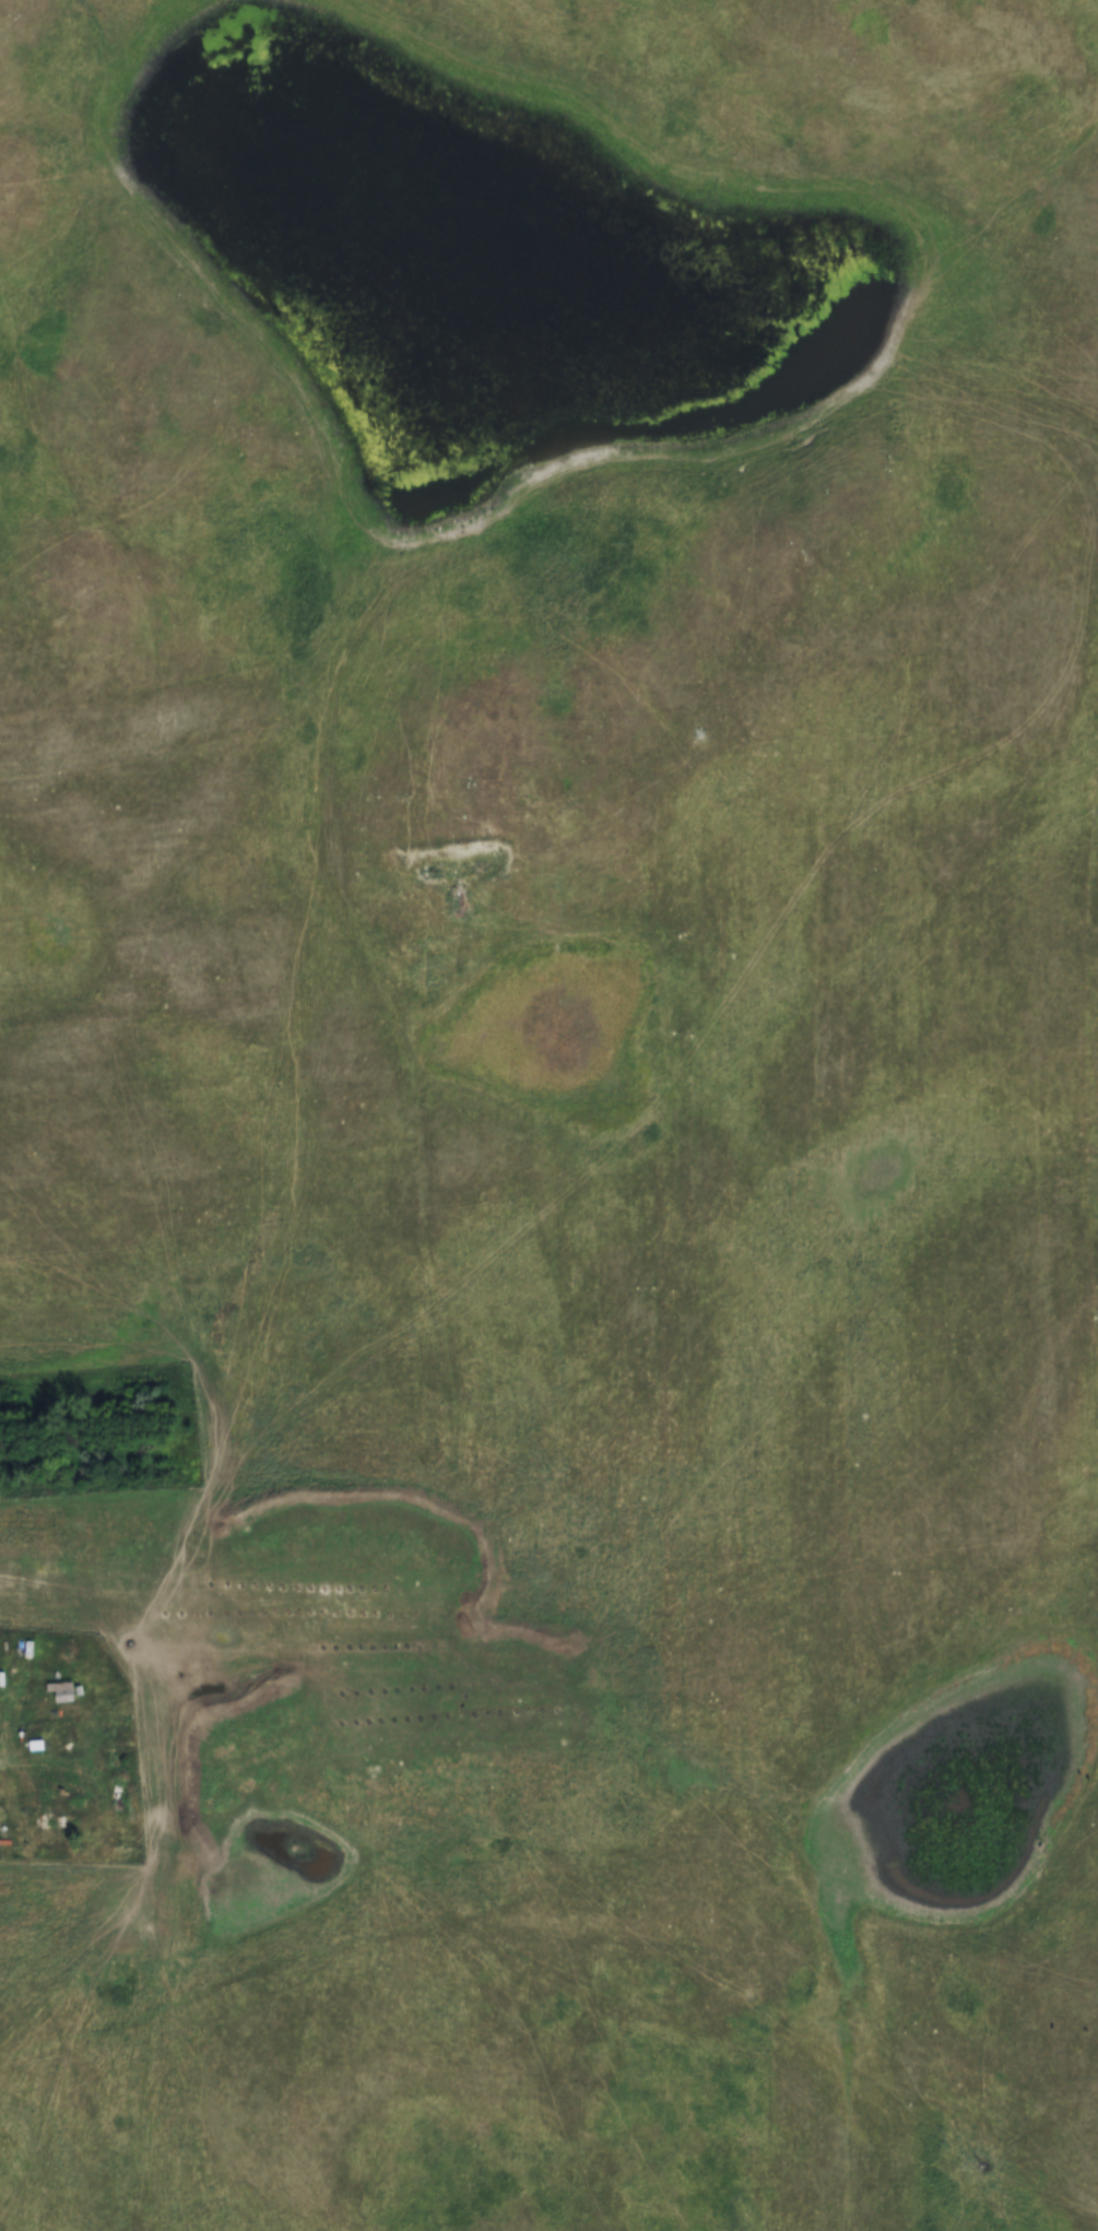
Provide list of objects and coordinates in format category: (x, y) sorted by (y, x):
building: (59, 1693)
road: (3, 1782)

